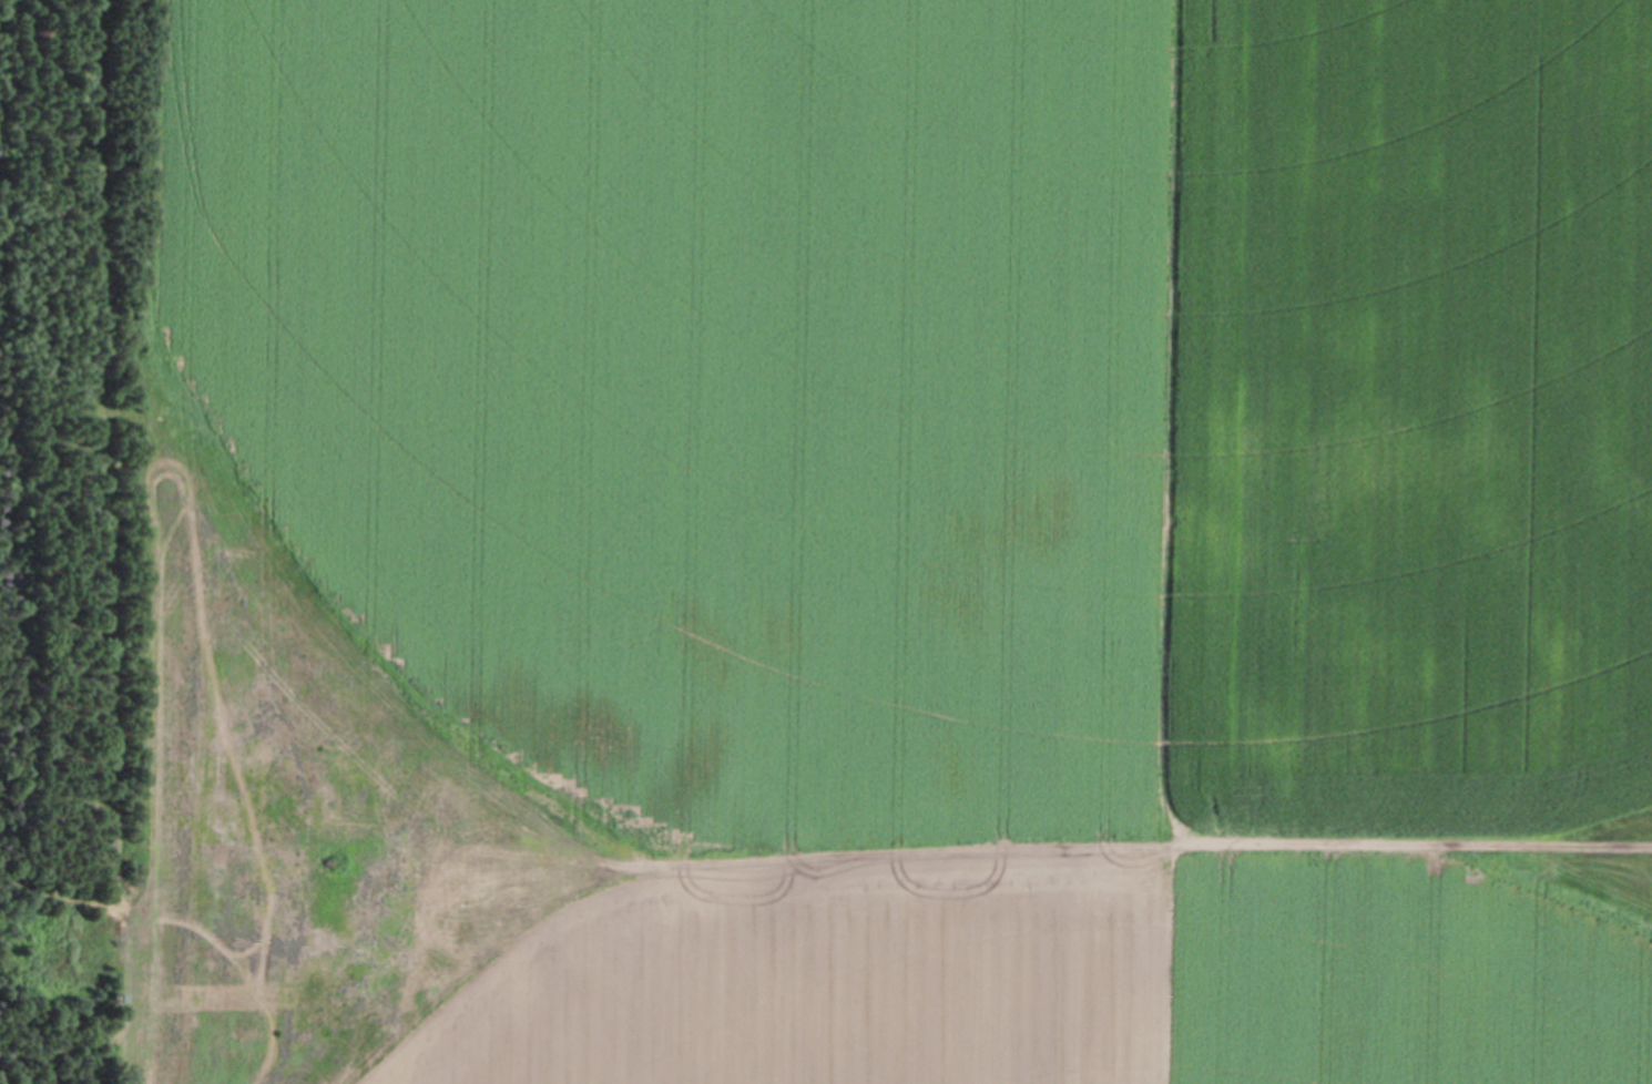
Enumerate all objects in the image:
crop: (893, 542)
road: (1128, 840)
road: (59, 897)

